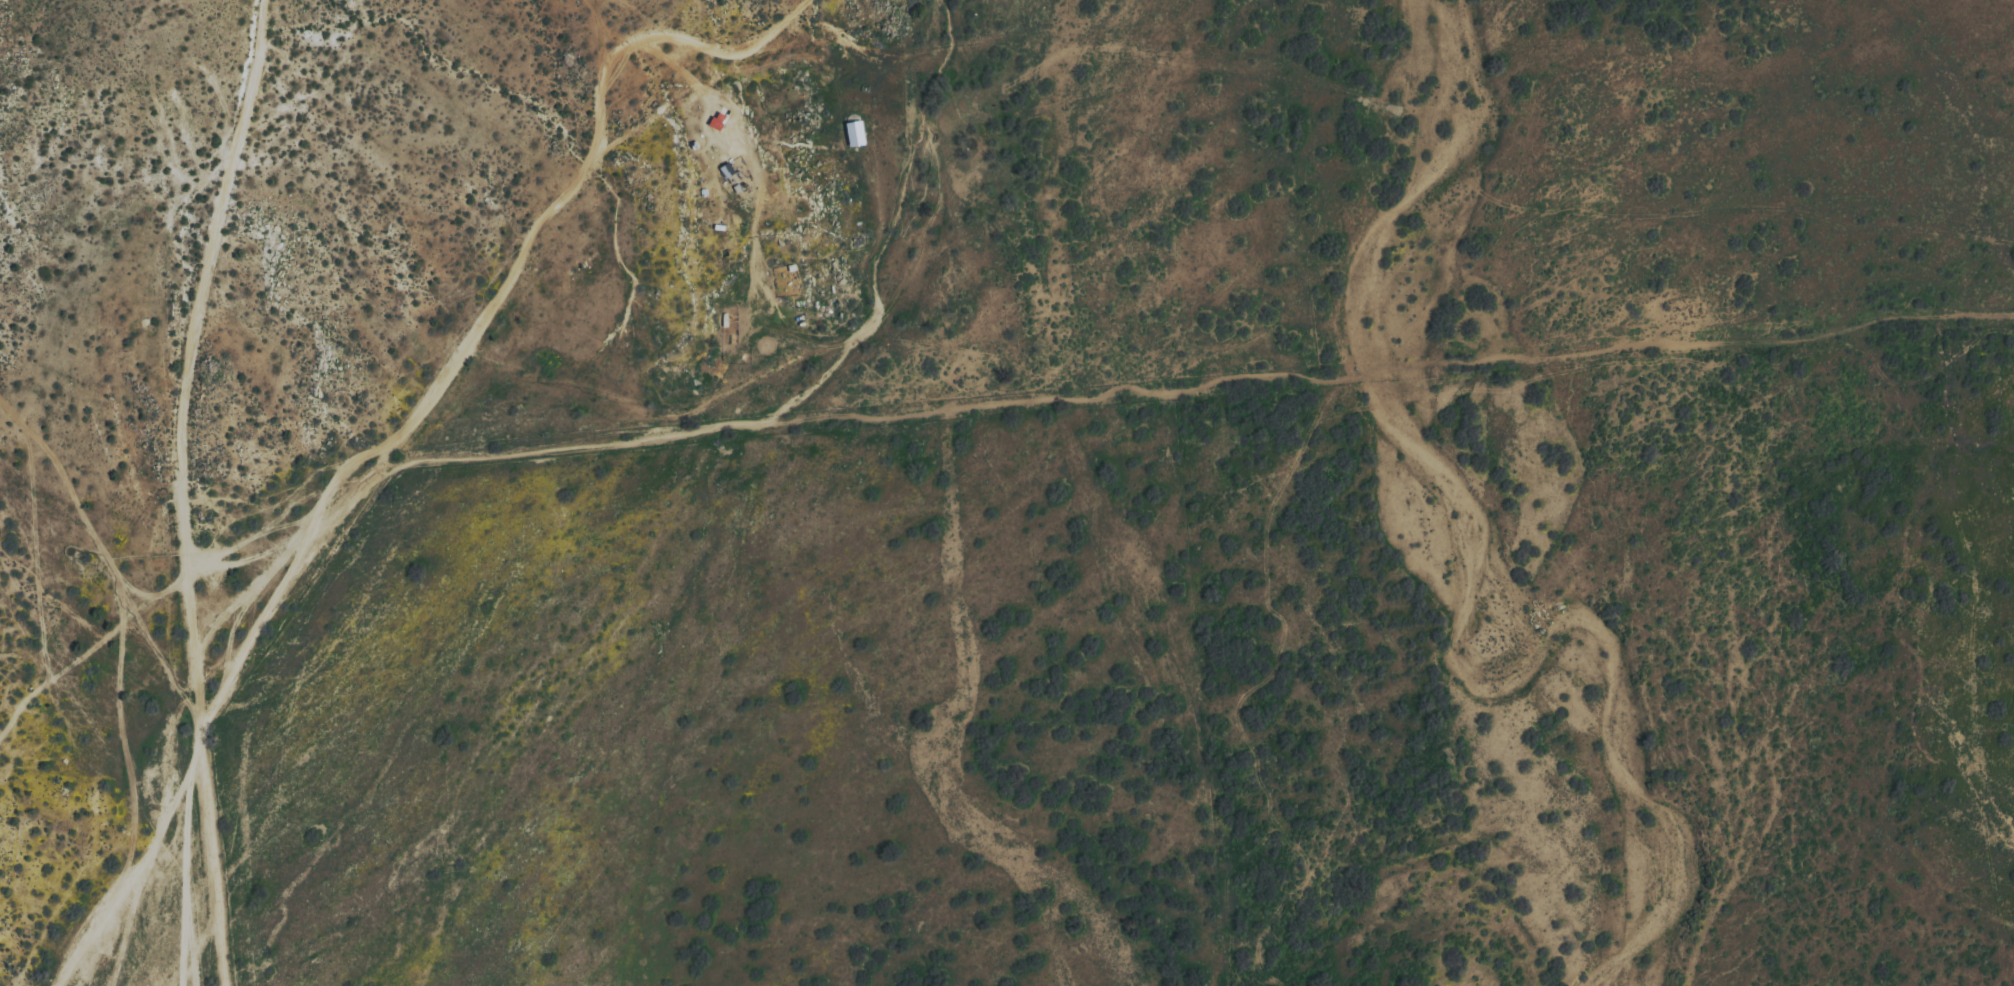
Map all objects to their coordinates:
road: (266, 602)

